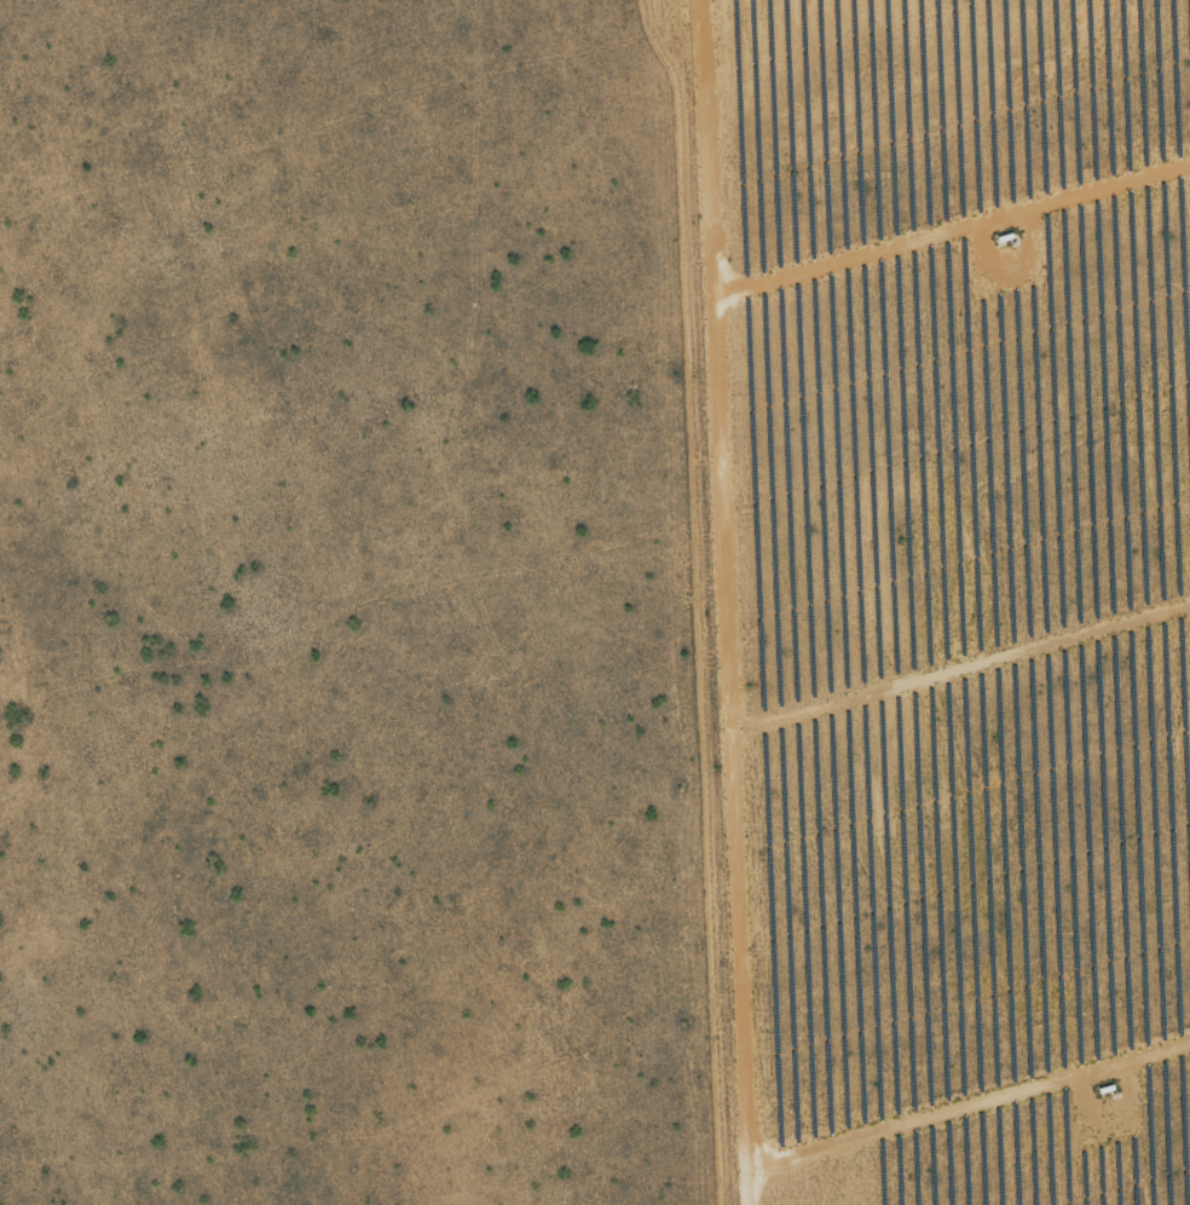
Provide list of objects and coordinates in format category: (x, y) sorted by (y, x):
solar farm: (951, 592)

